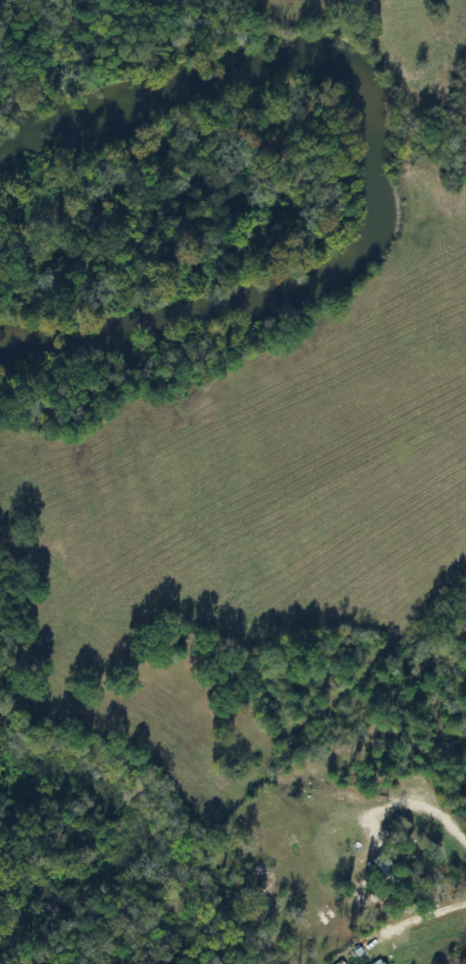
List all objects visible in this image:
road: (457, 831)
building: (385, 871)
building: (377, 962)

